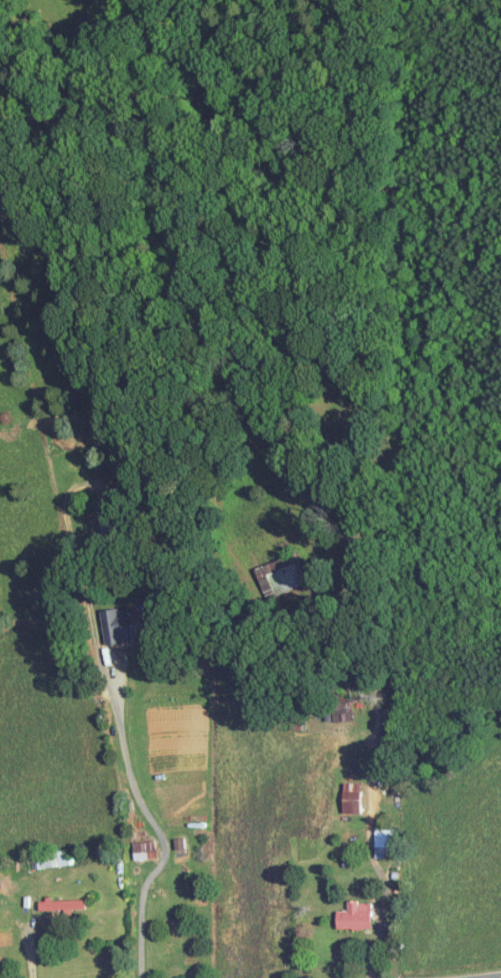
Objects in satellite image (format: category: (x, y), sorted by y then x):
building: (112, 521)
building: (286, 577)
building: (127, 626)
building: (354, 797)
road: (158, 833)
building: (384, 843)
building: (147, 849)
building: (66, 904)
building: (358, 915)
road: (28, 947)

